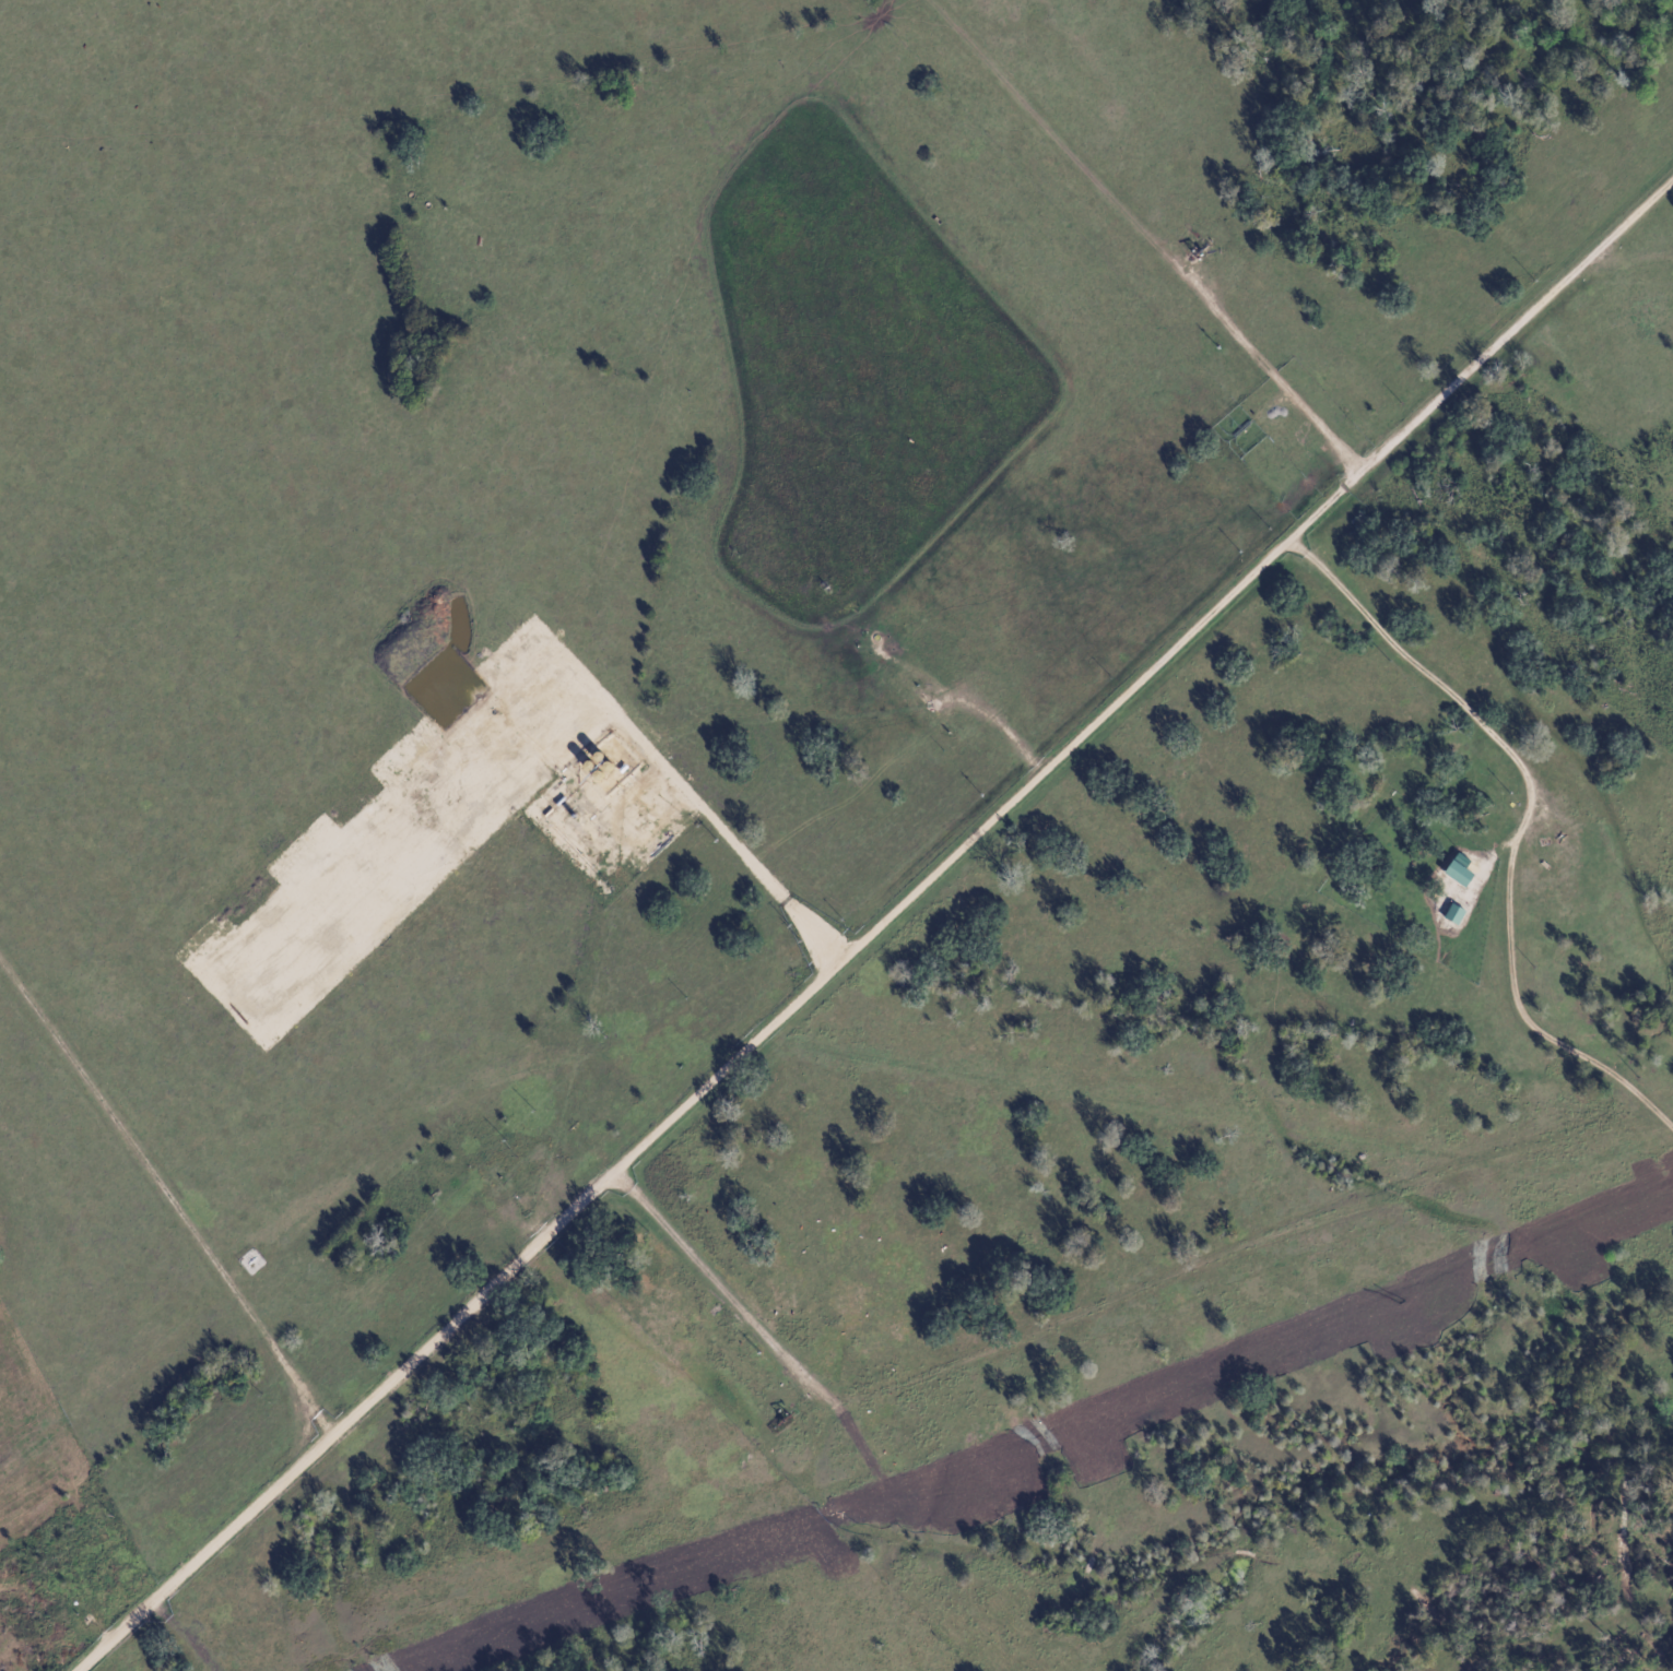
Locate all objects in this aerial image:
road: (1121, 202)
road: (1441, 682)
road: (999, 735)
building: (1464, 870)
building: (1459, 914)
road: (876, 926)
road: (1109, 1301)

